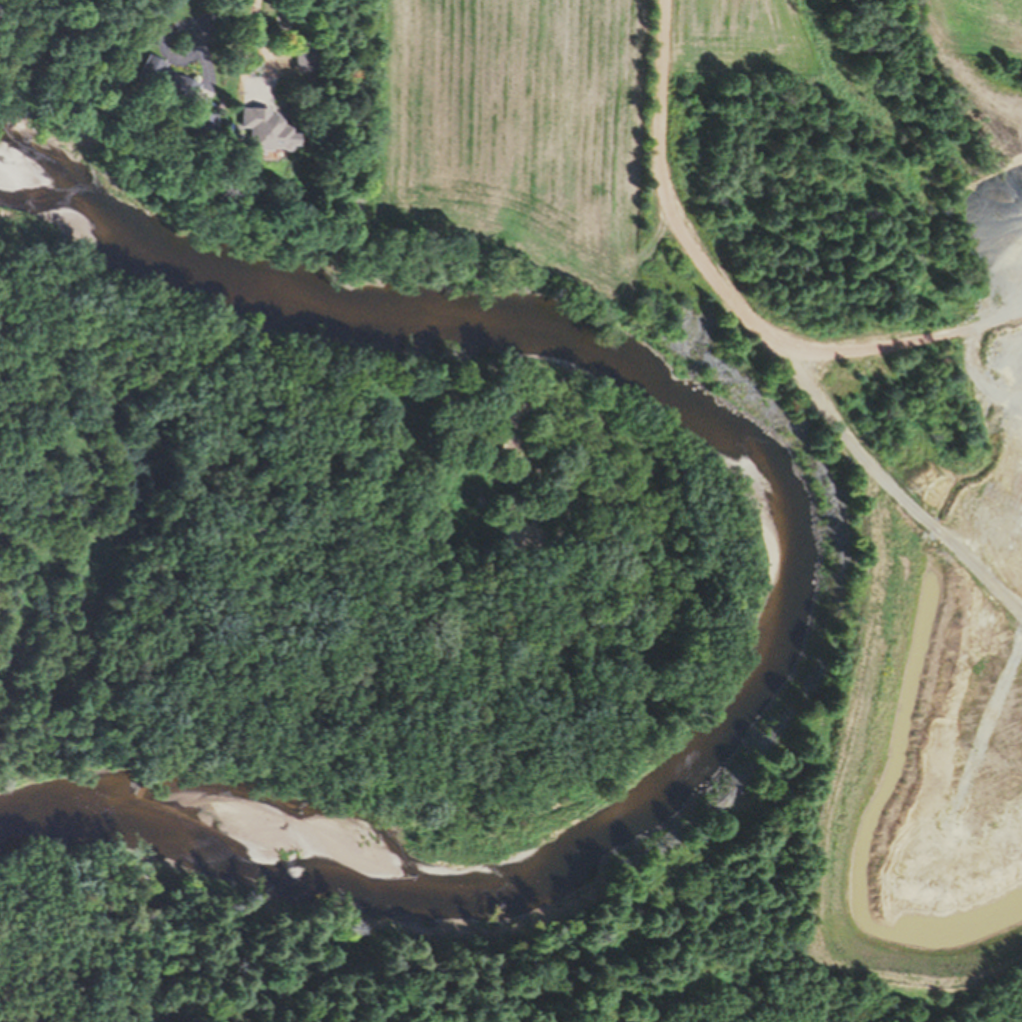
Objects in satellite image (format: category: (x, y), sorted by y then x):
road: (252, 1)
building: (303, 53)
building: (164, 80)
building: (202, 124)
building: (264, 130)
crop: (499, 150)
quarry: (839, 510)
river: (742, 579)
park: (312, 936)

